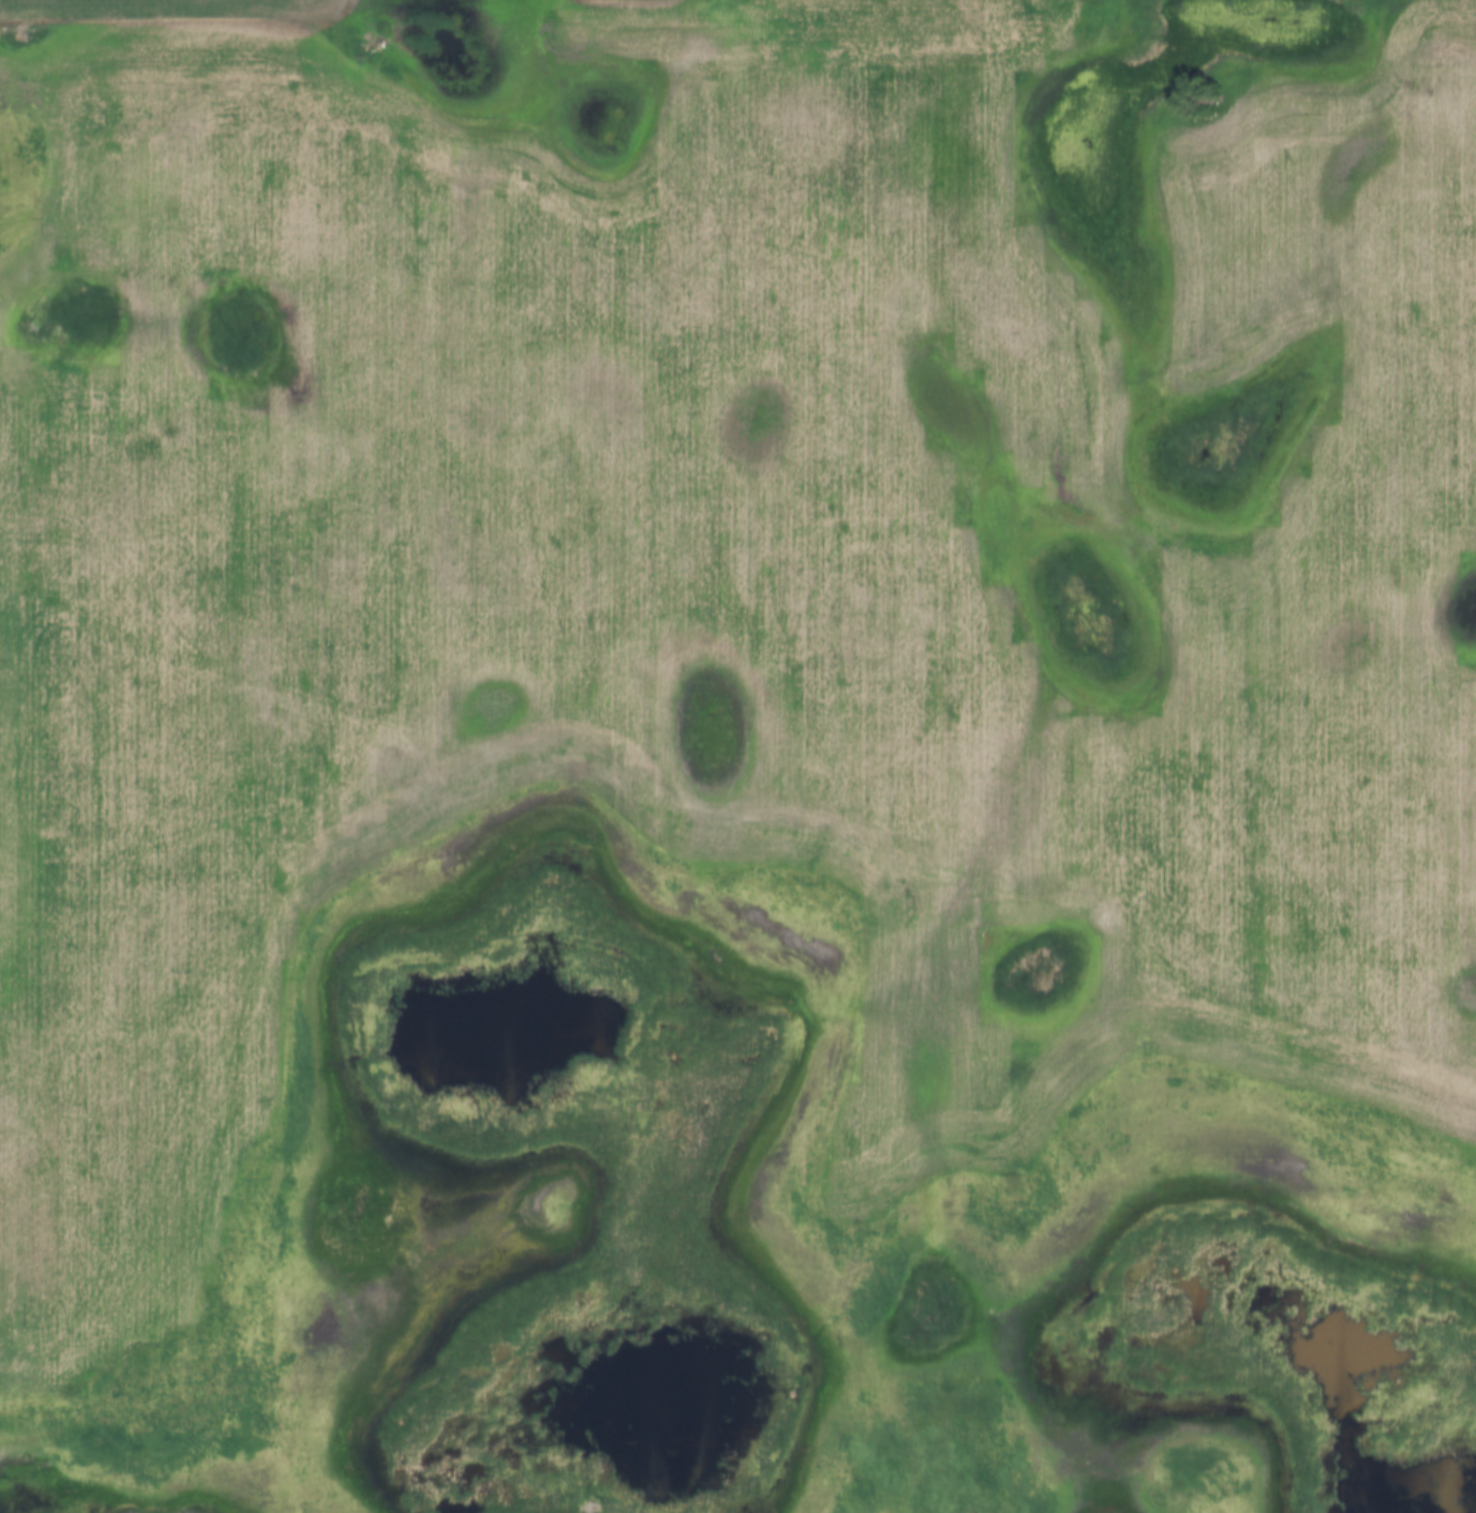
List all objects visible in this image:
road: (722, 17)

